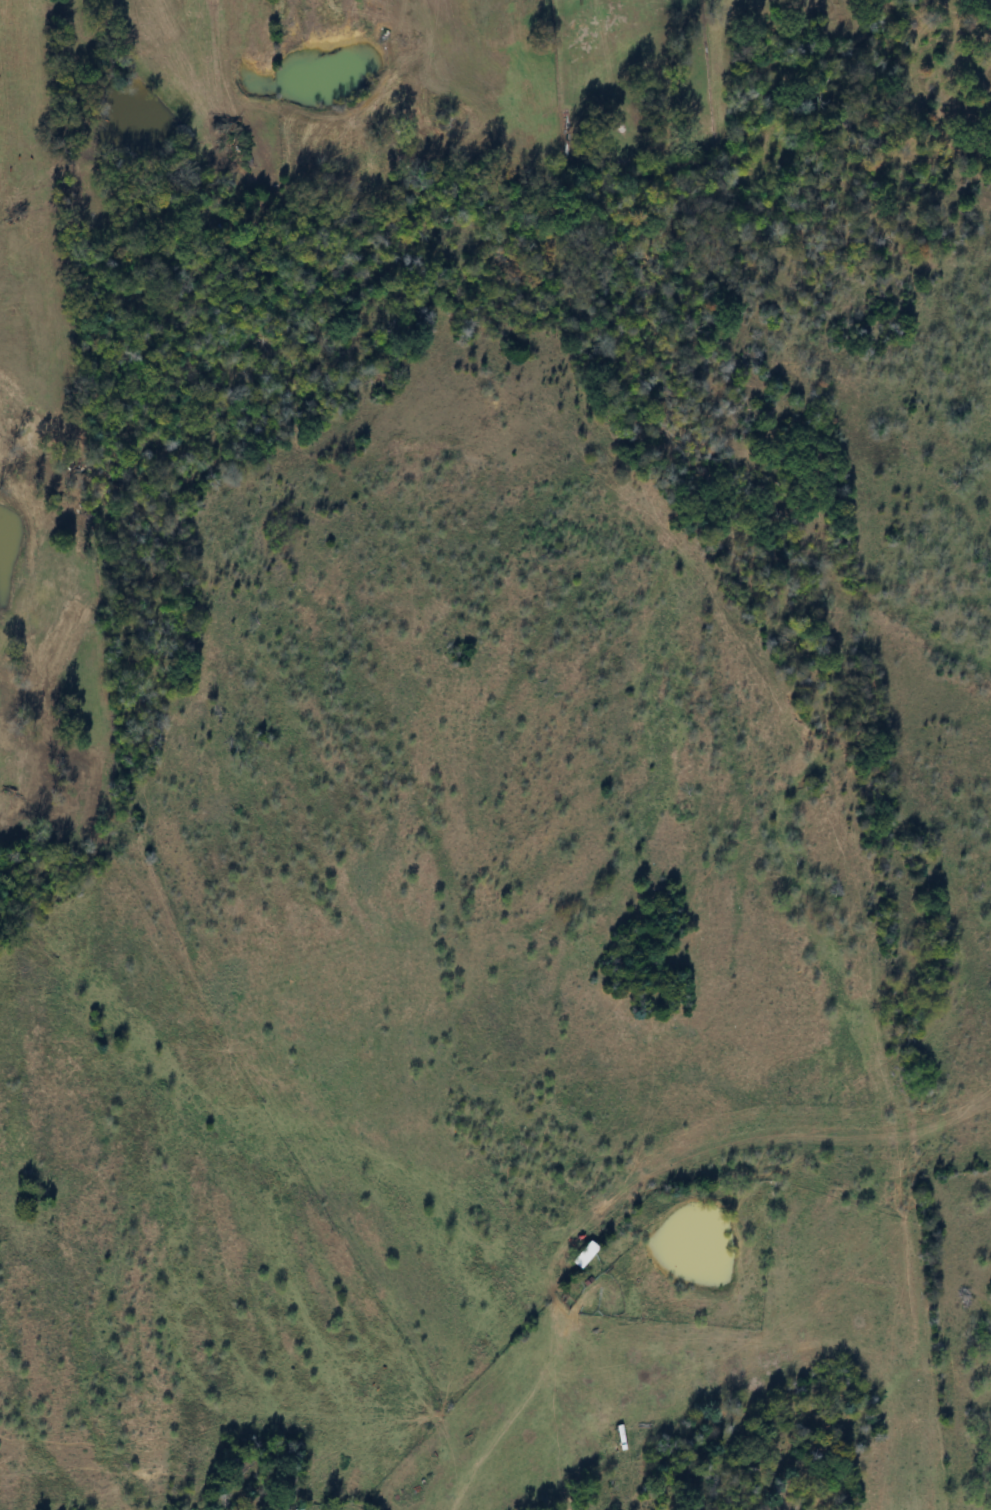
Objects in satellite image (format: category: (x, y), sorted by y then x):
building: (580, 1255)

